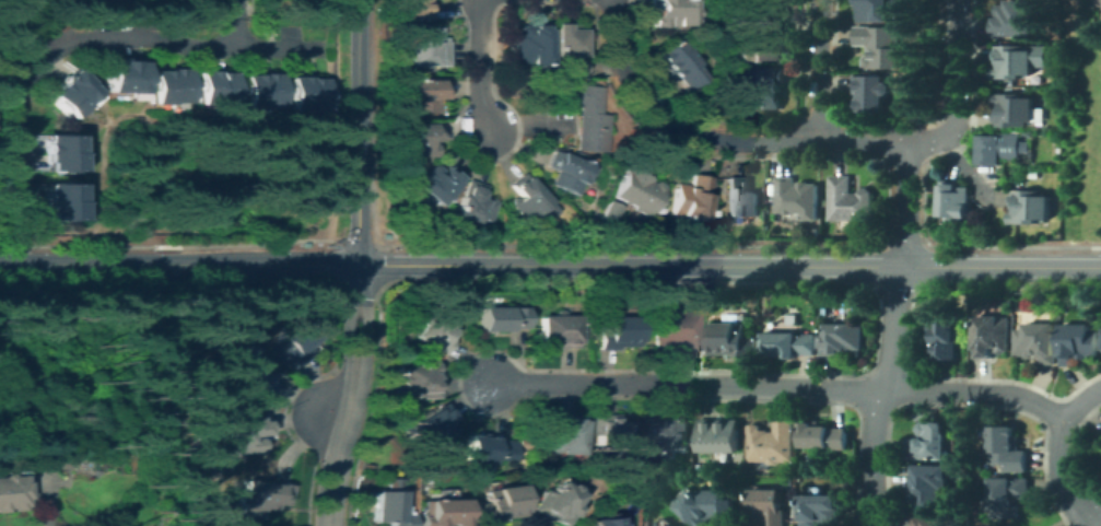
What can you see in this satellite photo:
building: (763, 4)
building: (1100, 4)
building: (413, 9)
building: (877, 9)
building: (670, 13)
building: (1015, 19)
road: (235, 23)
road: (91, 38)
building: (764, 40)
building: (529, 44)
building: (569, 46)
building: (880, 46)
building: (425, 48)
building: (1014, 61)
building: (677, 63)
road: (480, 67)
road: (822, 71)
building: (120, 75)
building: (1010, 83)
building: (166, 85)
building: (212, 86)
building: (765, 89)
building: (259, 90)
road: (958, 90)
building: (70, 92)
building: (305, 93)
building: (871, 93)
building: (424, 94)
building: (1015, 109)
building: (586, 115)
road: (356, 132)
building: (417, 139)
road: (713, 140)
building: (999, 148)
building: (58, 152)
building: (566, 172)
building: (434, 183)
building: (634, 189)
building: (689, 197)
building: (798, 197)
building: (740, 199)
building: (528, 200)
building: (850, 200)
building: (954, 200)
building: (58, 201)
building: (472, 204)
road: (906, 204)
building: (1030, 207)
building: (605, 211)
road: (178, 265)
road: (631, 266)
road: (1004, 267)
road: (356, 287)
building: (501, 318)
building: (438, 327)
building: (676, 329)
building: (558, 330)
building: (614, 332)
road: (352, 335)
road: (368, 335)
building: (944, 335)
building: (993, 336)
building: (842, 339)
building: (733, 340)
building: (292, 341)
building: (1038, 342)
building: (1078, 342)
building: (789, 344)
building: (241, 371)
building: (420, 379)
road: (781, 386)
road: (880, 395)
road: (1075, 414)
road: (330, 417)
building: (433, 428)
building: (667, 433)
building: (244, 435)
building: (610, 435)
building: (561, 436)
building: (719, 436)
building: (823, 436)
road: (338, 443)
building: (772, 443)
building: (929, 443)
building: (522, 445)
building: (485, 448)
building: (1007, 448)
building: (928, 488)
road: (1065, 488)
building: (9, 492)
building: (1007, 495)
building: (262, 496)
building: (496, 503)
building: (557, 503)
building: (705, 505)
building: (768, 507)
building: (387, 509)
building: (820, 510)
building: (441, 512)
building: (602, 521)
road: (1097, 521)
building: (935, 522)
building: (656, 525)

